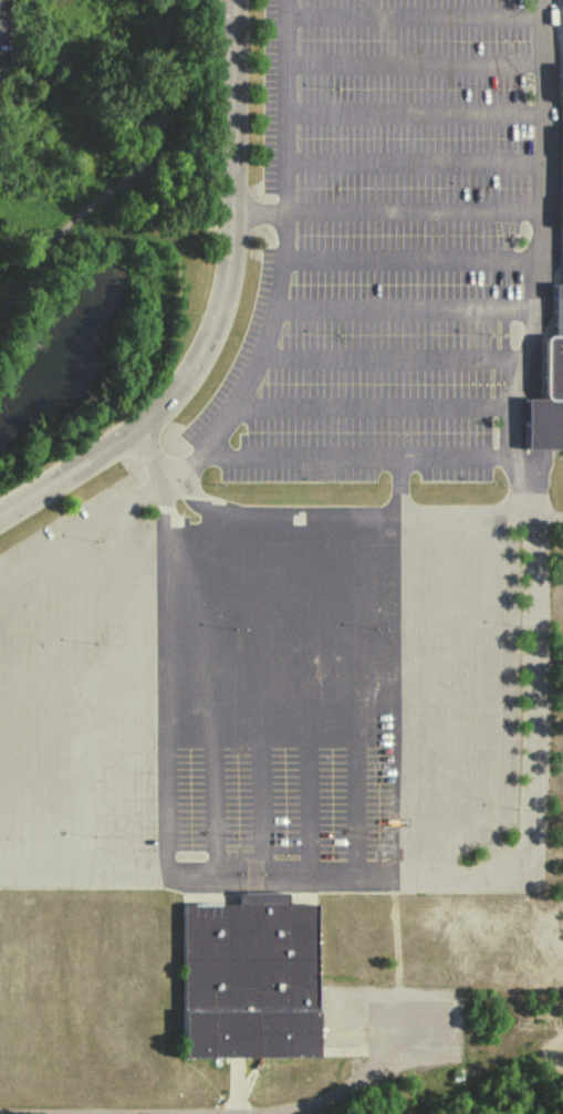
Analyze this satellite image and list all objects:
building: (562, 1)
road: (417, 21)
road: (417, 70)
road: (417, 117)
road: (417, 165)
road: (125, 177)
road: (388, 215)
road: (284, 259)
road: (415, 263)
road: (544, 266)
road: (220, 311)
road: (408, 313)
road: (396, 364)
building: (545, 397)
road: (375, 409)
road: (359, 461)
road: (404, 489)
road: (332, 519)
road: (85, 535)
road: (165, 680)
road: (213, 696)
road: (122, 697)
road: (261, 699)
road: (353, 699)
road: (409, 699)
road: (305, 700)
road: (458, 700)
road: (499, 700)
road: (63, 714)
road: (21, 725)
road: (440, 881)
building: (252, 981)
road: (209, 1113)

